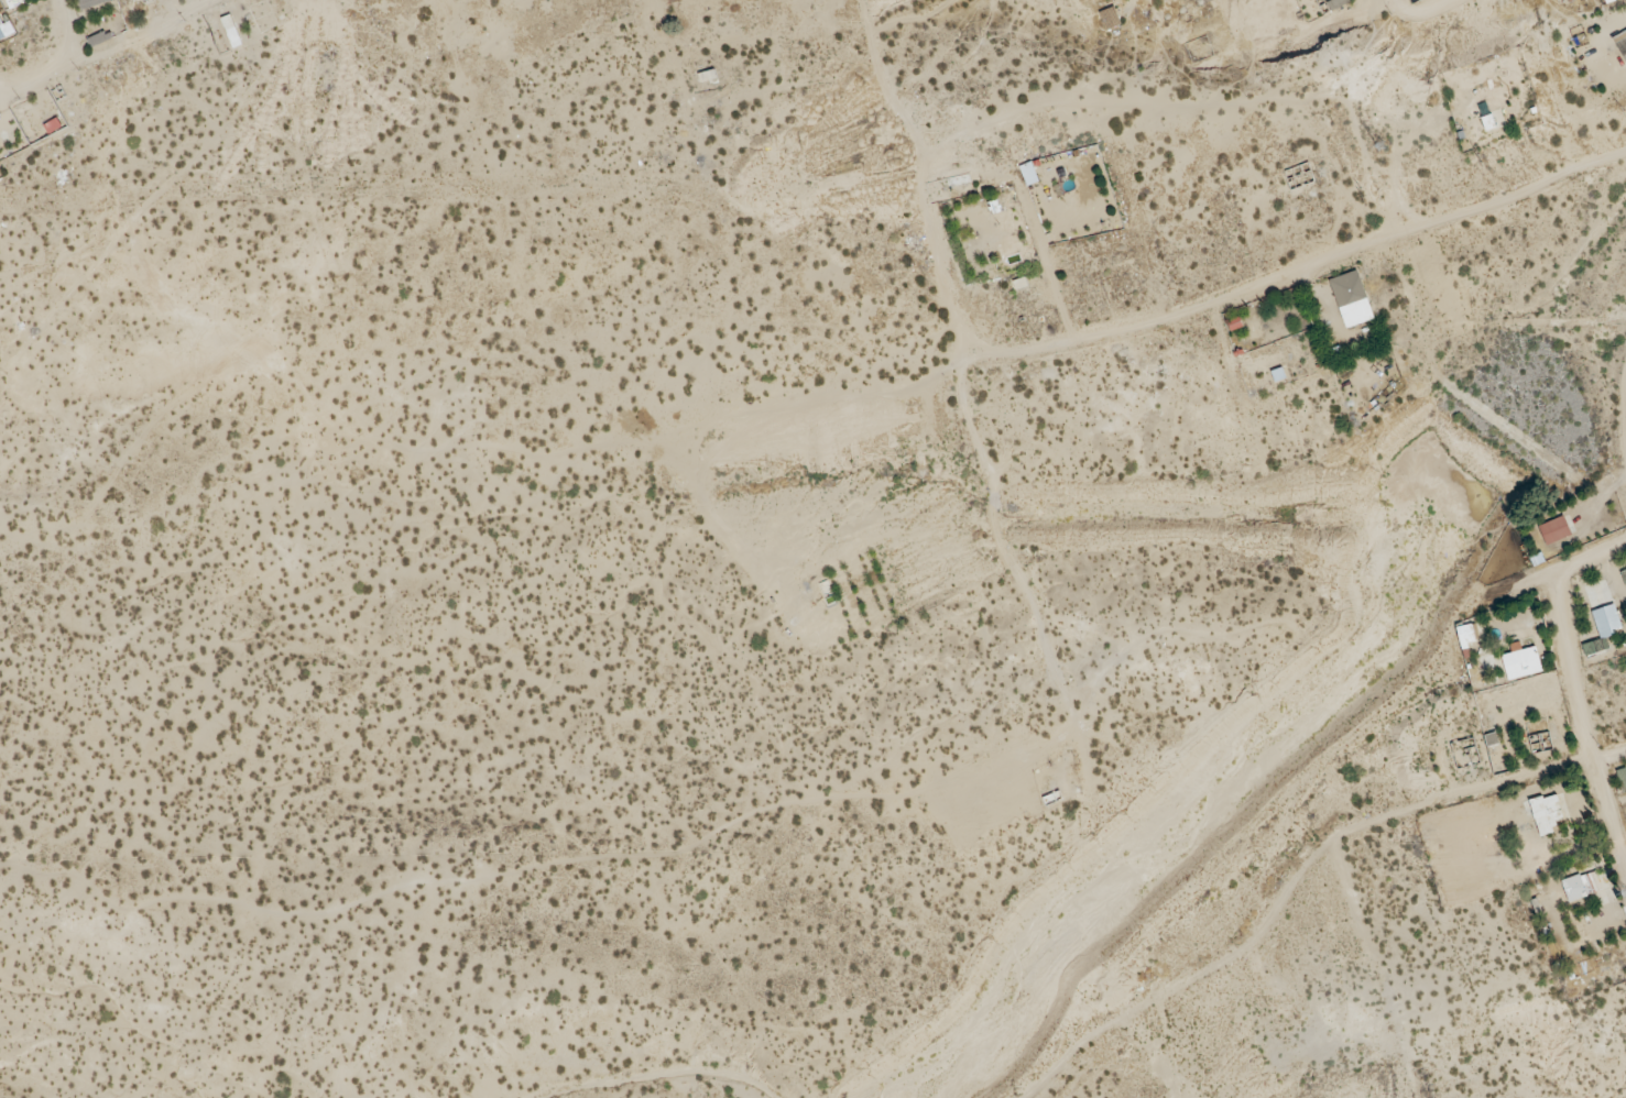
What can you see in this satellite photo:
water tower: (927, 132)

